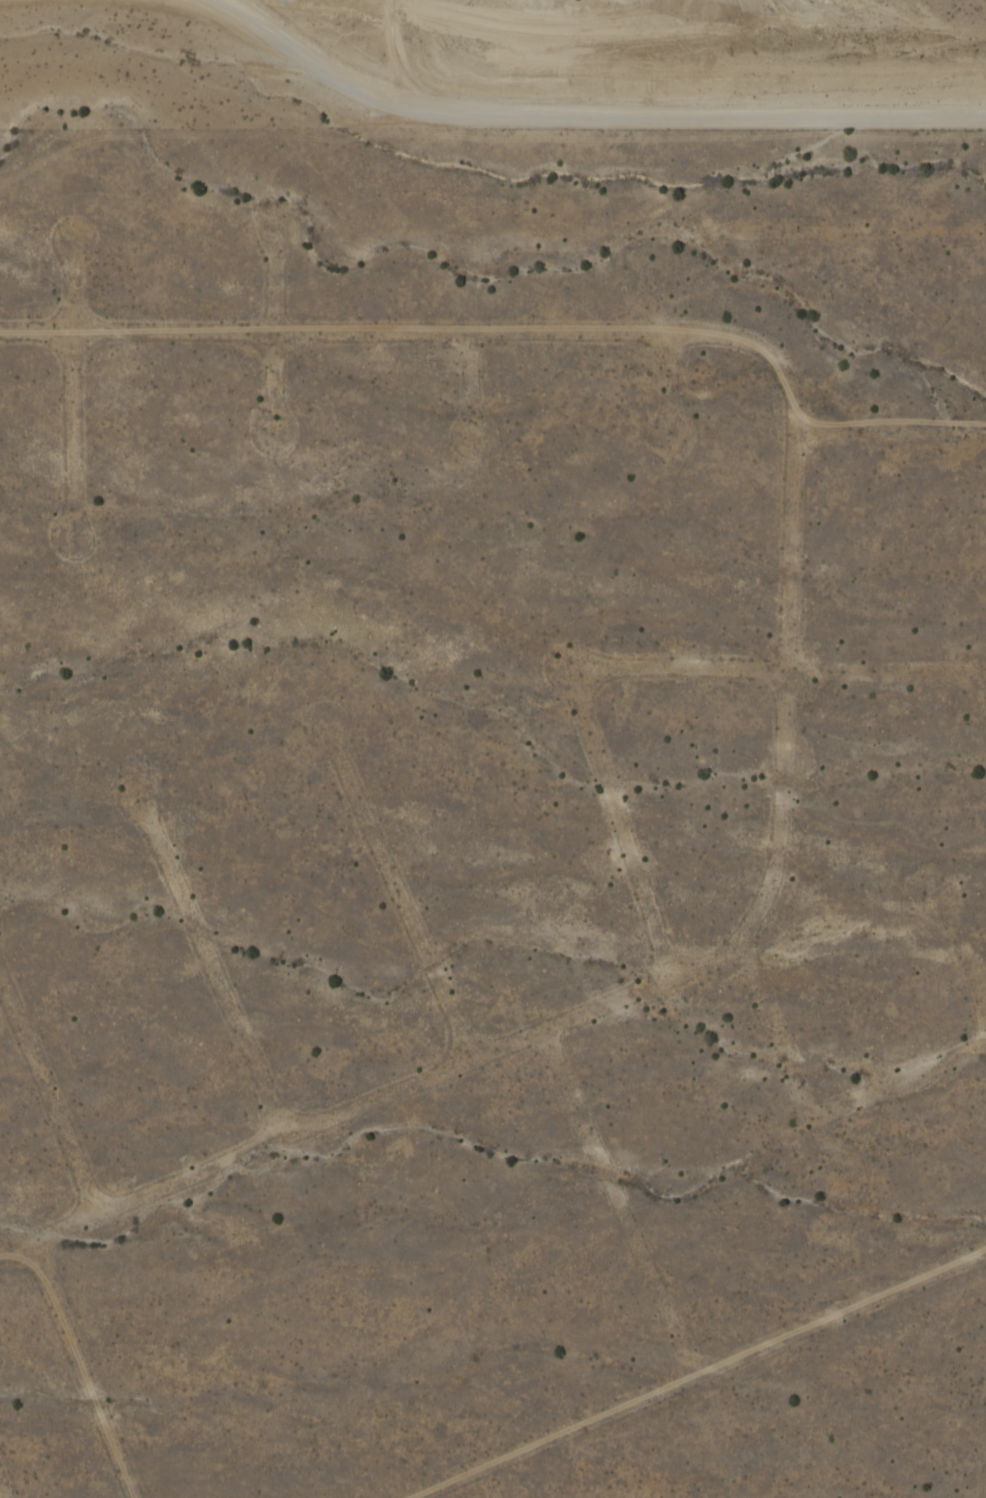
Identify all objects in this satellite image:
road: (401, 60)
road: (597, 117)

